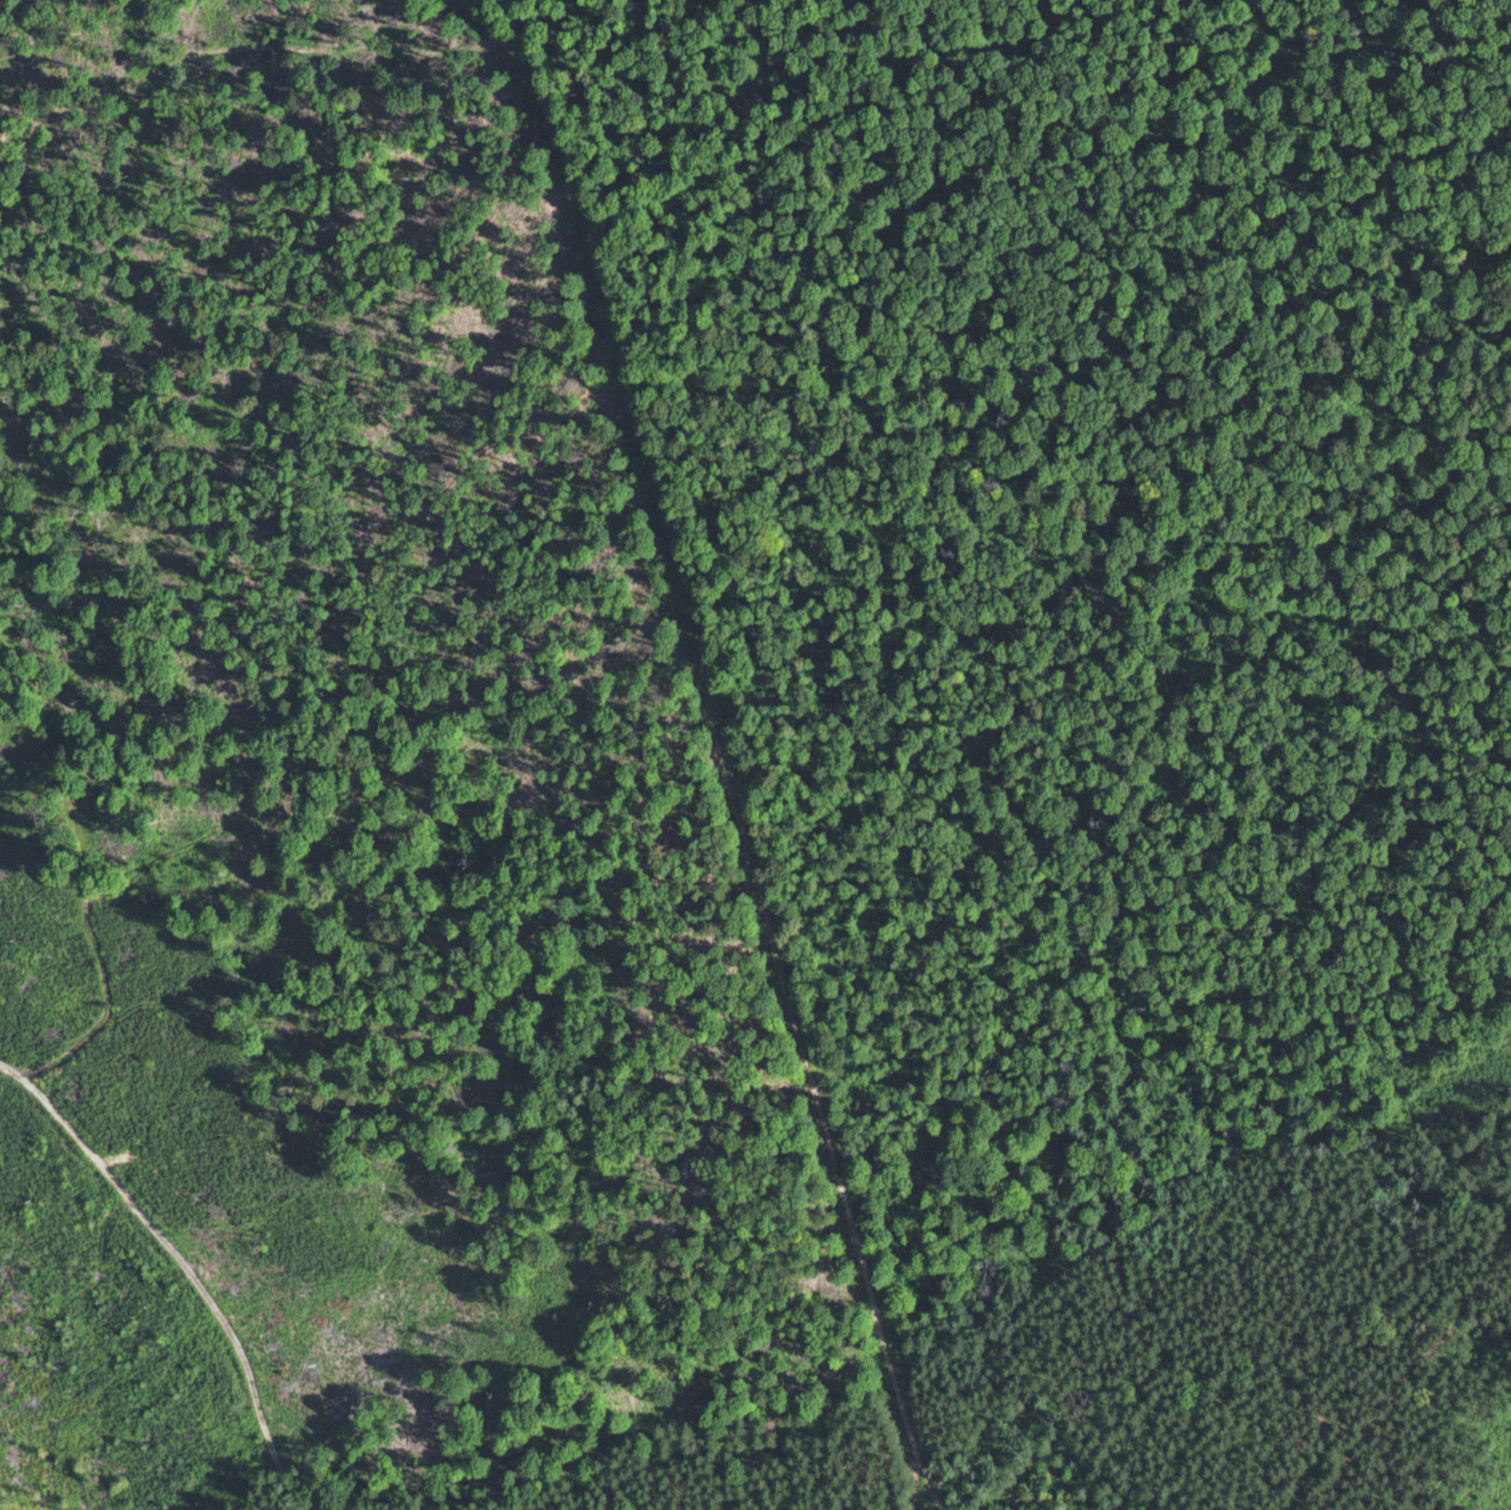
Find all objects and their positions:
road: (1337, 273)
road: (728, 744)
road: (184, 1289)
road: (1392, 1363)

